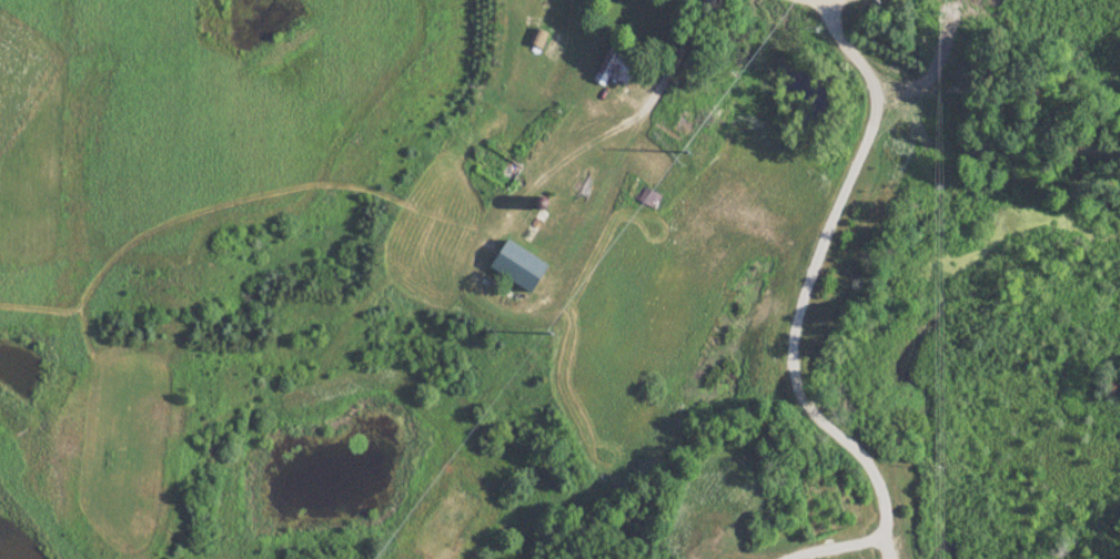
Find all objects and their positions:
power tower: (938, 12)
building: (614, 69)
power tower: (685, 153)
building: (643, 196)
building: (517, 267)
road: (794, 307)
power tower: (552, 335)

